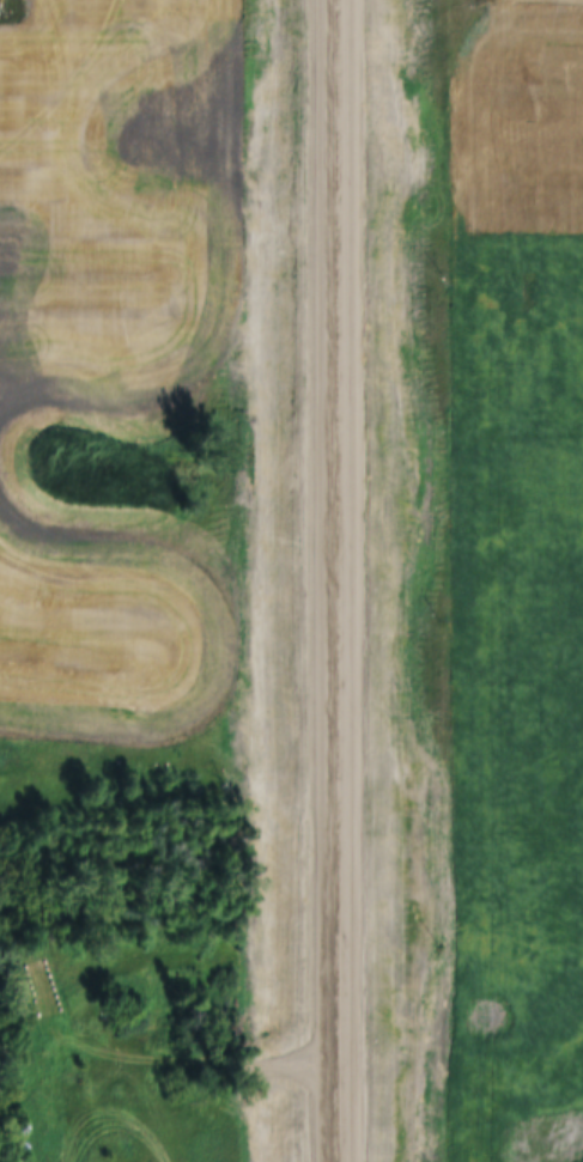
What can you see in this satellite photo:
road: (333, 580)
road: (182, 1065)

